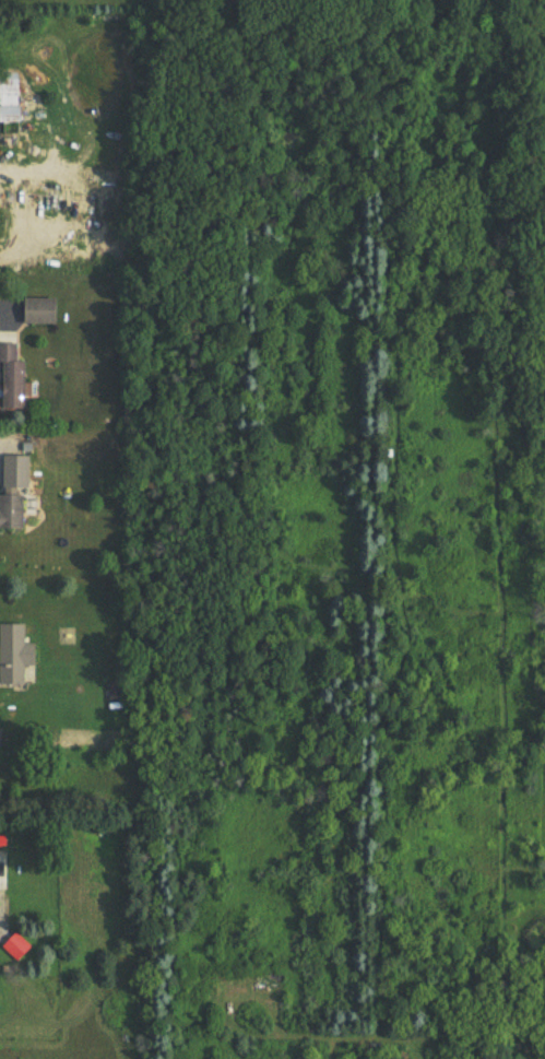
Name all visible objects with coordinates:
building: (13, 98)
road: (1, 306)
building: (45, 313)
building: (15, 377)
road: (2, 457)
building: (14, 509)
building: (13, 655)
building: (14, 948)

